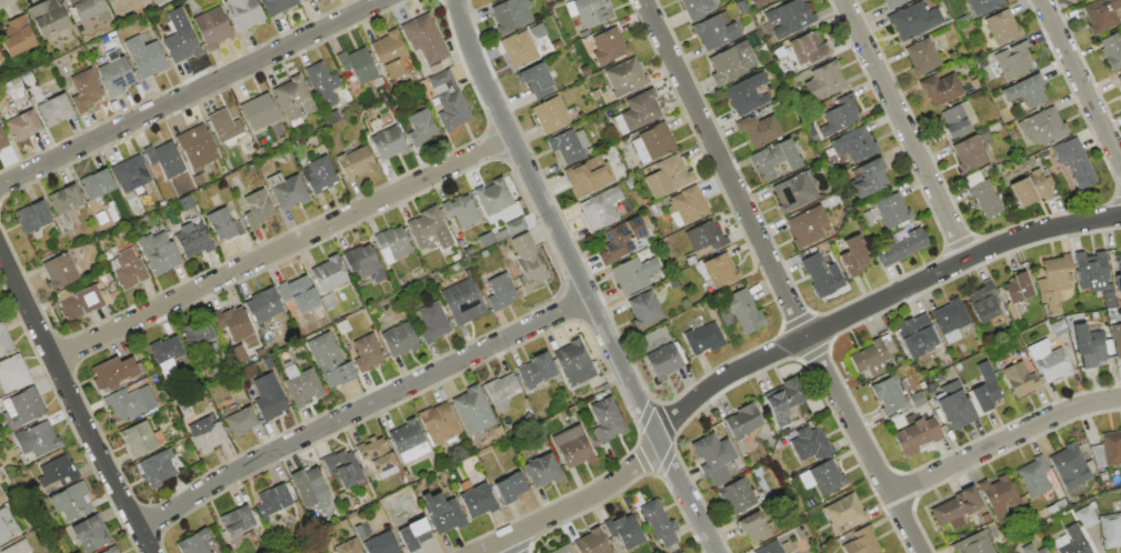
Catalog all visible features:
building: (302, 0)
building: (1078, 0)
building: (761, 2)
building: (894, 3)
building: (123, 4)
building: (276, 6)
building: (982, 6)
building: (697, 8)
building: (89, 10)
building: (591, 11)
building: (242, 12)
building: (511, 14)
building: (1101, 14)
building: (47, 18)
building: (789, 18)
building: (914, 21)
building: (211, 27)
building: (1001, 27)
building: (713, 32)
building: (17, 37)
building: (424, 38)
building: (181, 46)
building: (608, 46)
building: (517, 49)
building: (807, 49)
building: (1111, 50)
building: (390, 53)
building: (144, 57)
building: (921, 57)
building: (0, 60)
building: (1015, 61)
building: (731, 63)
building: (357, 66)
building: (114, 76)
building: (623, 79)
building: (1120, 79)
building: (537, 80)
building: (823, 81)
road: (1080, 82)
building: (321, 84)
building: (939, 89)
building: (84, 90)
building: (1025, 91)
road: (191, 92)
building: (745, 94)
building: (293, 98)
building: (449, 101)
building: (54, 109)
building: (640, 110)
building: (259, 111)
building: (550, 114)
building: (839, 115)
building: (331, 118)
building: (958, 119)
building: (21, 125)
building: (223, 125)
building: (1042, 125)
building: (421, 127)
road: (903, 129)
building: (758, 130)
building: (2, 140)
building: (657, 141)
building: (388, 142)
building: (854, 143)
building: (196, 145)
building: (568, 145)
building: (969, 153)
building: (163, 159)
building: (773, 159)
building: (356, 161)
building: (1074, 161)
building: (129, 173)
building: (318, 174)
building: (587, 175)
building: (668, 178)
building: (869, 178)
building: (96, 184)
building: (1031, 188)
building: (794, 191)
building: (288, 192)
building: (492, 197)
building: (984, 198)
building: (64, 199)
building: (186, 202)
building: (688, 204)
building: (257, 209)
building: (600, 209)
building: (461, 210)
building: (888, 211)
building: (32, 217)
building: (223, 224)
building: (516, 224)
building: (807, 224)
building: (424, 225)
building: (499, 233)
building: (704, 237)
building: (192, 239)
building: (486, 239)
building: (621, 239)
building: (393, 242)
building: (900, 245)
road: (280, 249)
building: (468, 250)
building: (157, 252)
building: (454, 257)
building: (852, 257)
building: (363, 262)
building: (528, 262)
building: (128, 269)
building: (720, 270)
building: (59, 271)
building: (328, 273)
building: (633, 273)
building: (820, 275)
building: (1093, 275)
road: (578, 279)
road: (777, 279)
building: (1118, 279)
building: (1053, 281)
building: (1018, 288)
building: (500, 292)
building: (298, 294)
building: (326, 301)
building: (462, 301)
building: (983, 301)
building: (80, 302)
building: (263, 305)
building: (644, 309)
building: (744, 311)
building: (952, 320)
building: (232, 322)
building: (431, 322)
building: (917, 335)
building: (199, 336)
building: (1117, 338)
building: (399, 339)
building: (703, 339)
building: (4, 340)
building: (1088, 345)
building: (167, 349)
road: (777, 350)
building: (367, 352)
building: (236, 354)
building: (870, 358)
building: (329, 360)
building: (1048, 360)
building: (663, 361)
building: (573, 363)
building: (542, 365)
building: (113, 372)
building: (12, 373)
building: (528, 375)
building: (1020, 379)
building: (301, 384)
building: (500, 388)
building: (983, 389)
building: (888, 394)
building: (268, 398)
building: (917, 399)
building: (784, 400)
building: (130, 402)
road: (71, 404)
building: (953, 405)
building: (21, 408)
road: (359, 409)
building: (472, 410)
building: (605, 419)
building: (239, 421)
building: (742, 421)
building: (438, 423)
building: (406, 435)
building: (917, 435)
building: (206, 436)
building: (37, 439)
building: (138, 439)
road: (1002, 440)
building: (810, 443)
building: (572, 446)
building: (1111, 448)
building: (373, 455)
building: (713, 458)
building: (1069, 466)
building: (342, 467)
building: (157, 469)
building: (542, 470)
building: (58, 472)
building: (1034, 476)
building: (822, 477)
building: (308, 485)
building: (509, 487)
building: (737, 495)
building: (999, 496)
building: (1, 500)
building: (272, 500)
building: (969, 500)
building: (477, 501)
building: (72, 502)
building: (844, 511)
building: (442, 513)
building: (948, 514)
building: (1085, 516)
building: (237, 521)
building: (658, 522)
building: (6, 525)
building: (753, 527)
building: (1111, 530)
building: (623, 531)
building: (90, 533)
building: (412, 535)
building: (861, 541)
building: (592, 542)
building: (1073, 542)
building: (193, 543)
building: (380, 544)
building: (973, 544)
road: (508, 545)
building: (347, 546)
building: (17, 547)
building: (769, 547)
building: (563, 549)
building: (1032, 549)
building: (111, 550)
building: (678, 552)
building: (681, 552)

